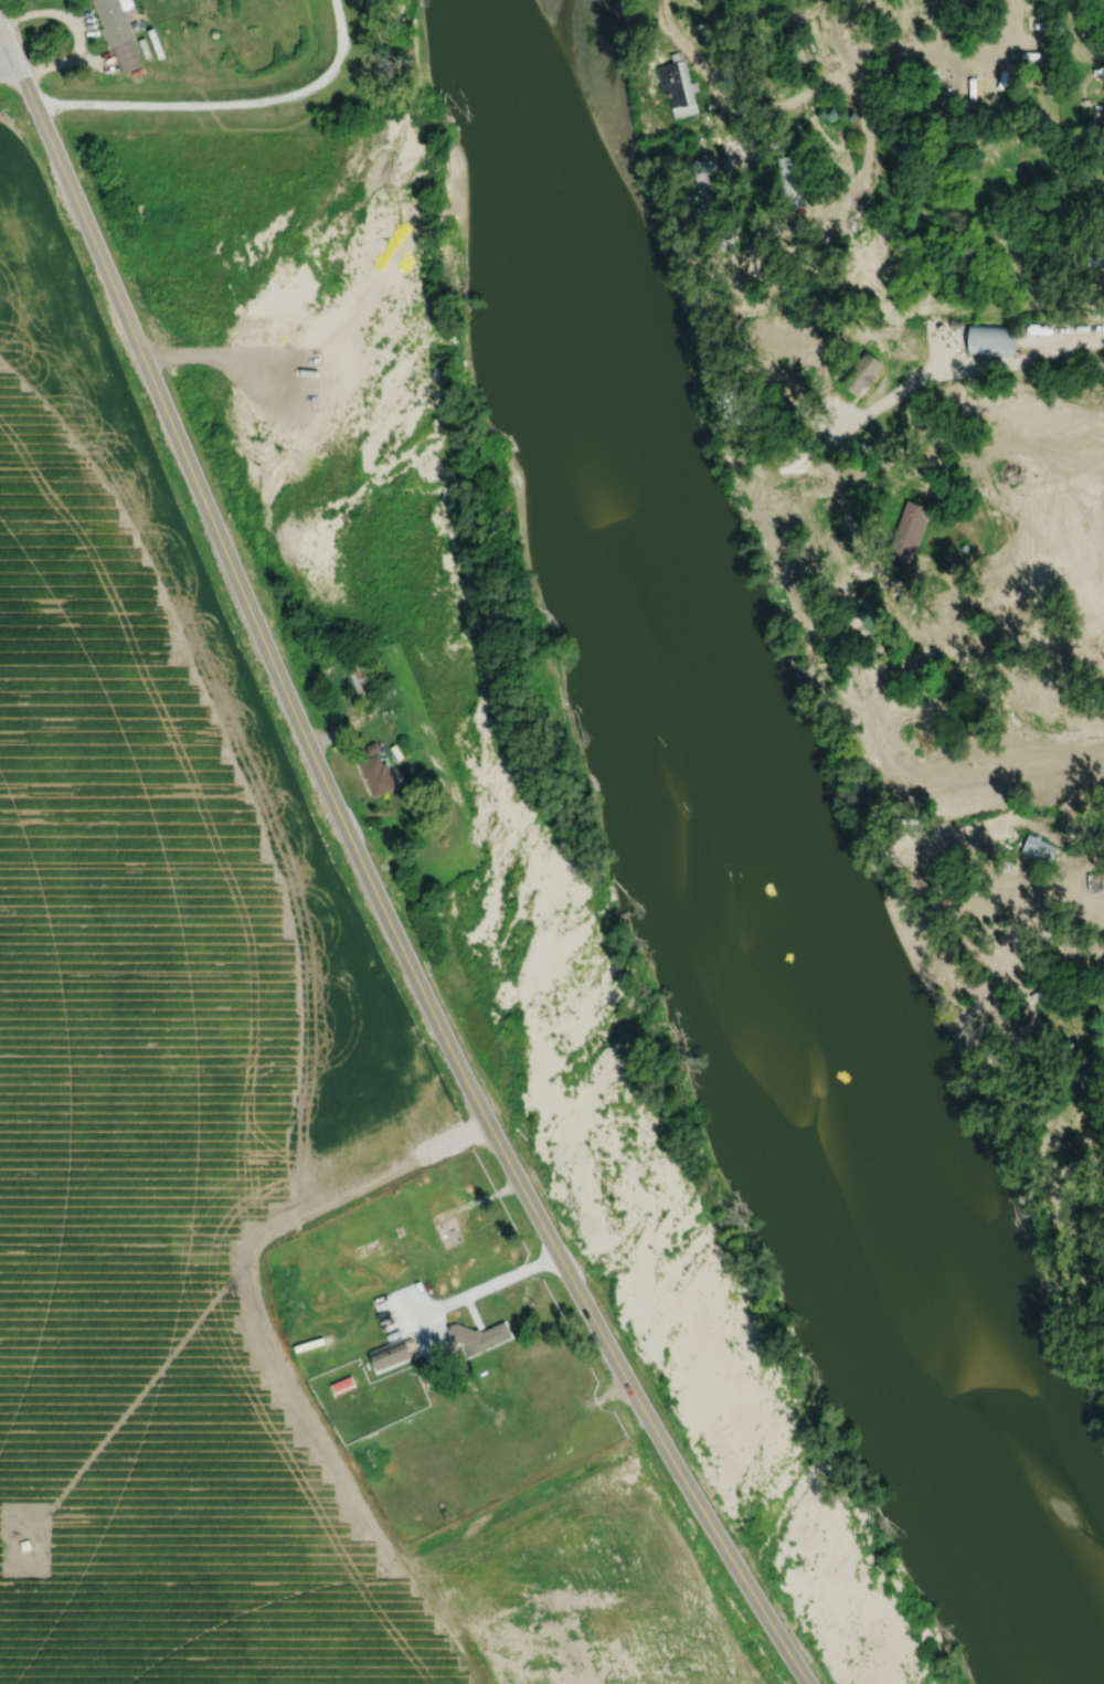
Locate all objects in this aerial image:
building: (808, 20)
road: (77, 27)
building: (119, 31)
road: (956, 50)
road: (9, 67)
building: (677, 87)
building: (1096, 88)
road: (862, 96)
road: (782, 98)
building: (704, 182)
building: (792, 182)
building: (1091, 261)
building: (990, 338)
road: (1030, 360)
building: (860, 372)
building: (909, 531)
building: (835, 568)
road: (852, 583)
building: (912, 661)
building: (361, 677)
building: (944, 700)
building: (376, 774)
building: (1038, 851)
river: (728, 872)
road: (367, 873)
building: (1044, 989)
crop: (209, 1187)
building: (447, 1227)
building: (368, 1246)
road: (492, 1279)
building: (478, 1335)
building: (390, 1353)
building: (342, 1384)
building: (25, 1544)

